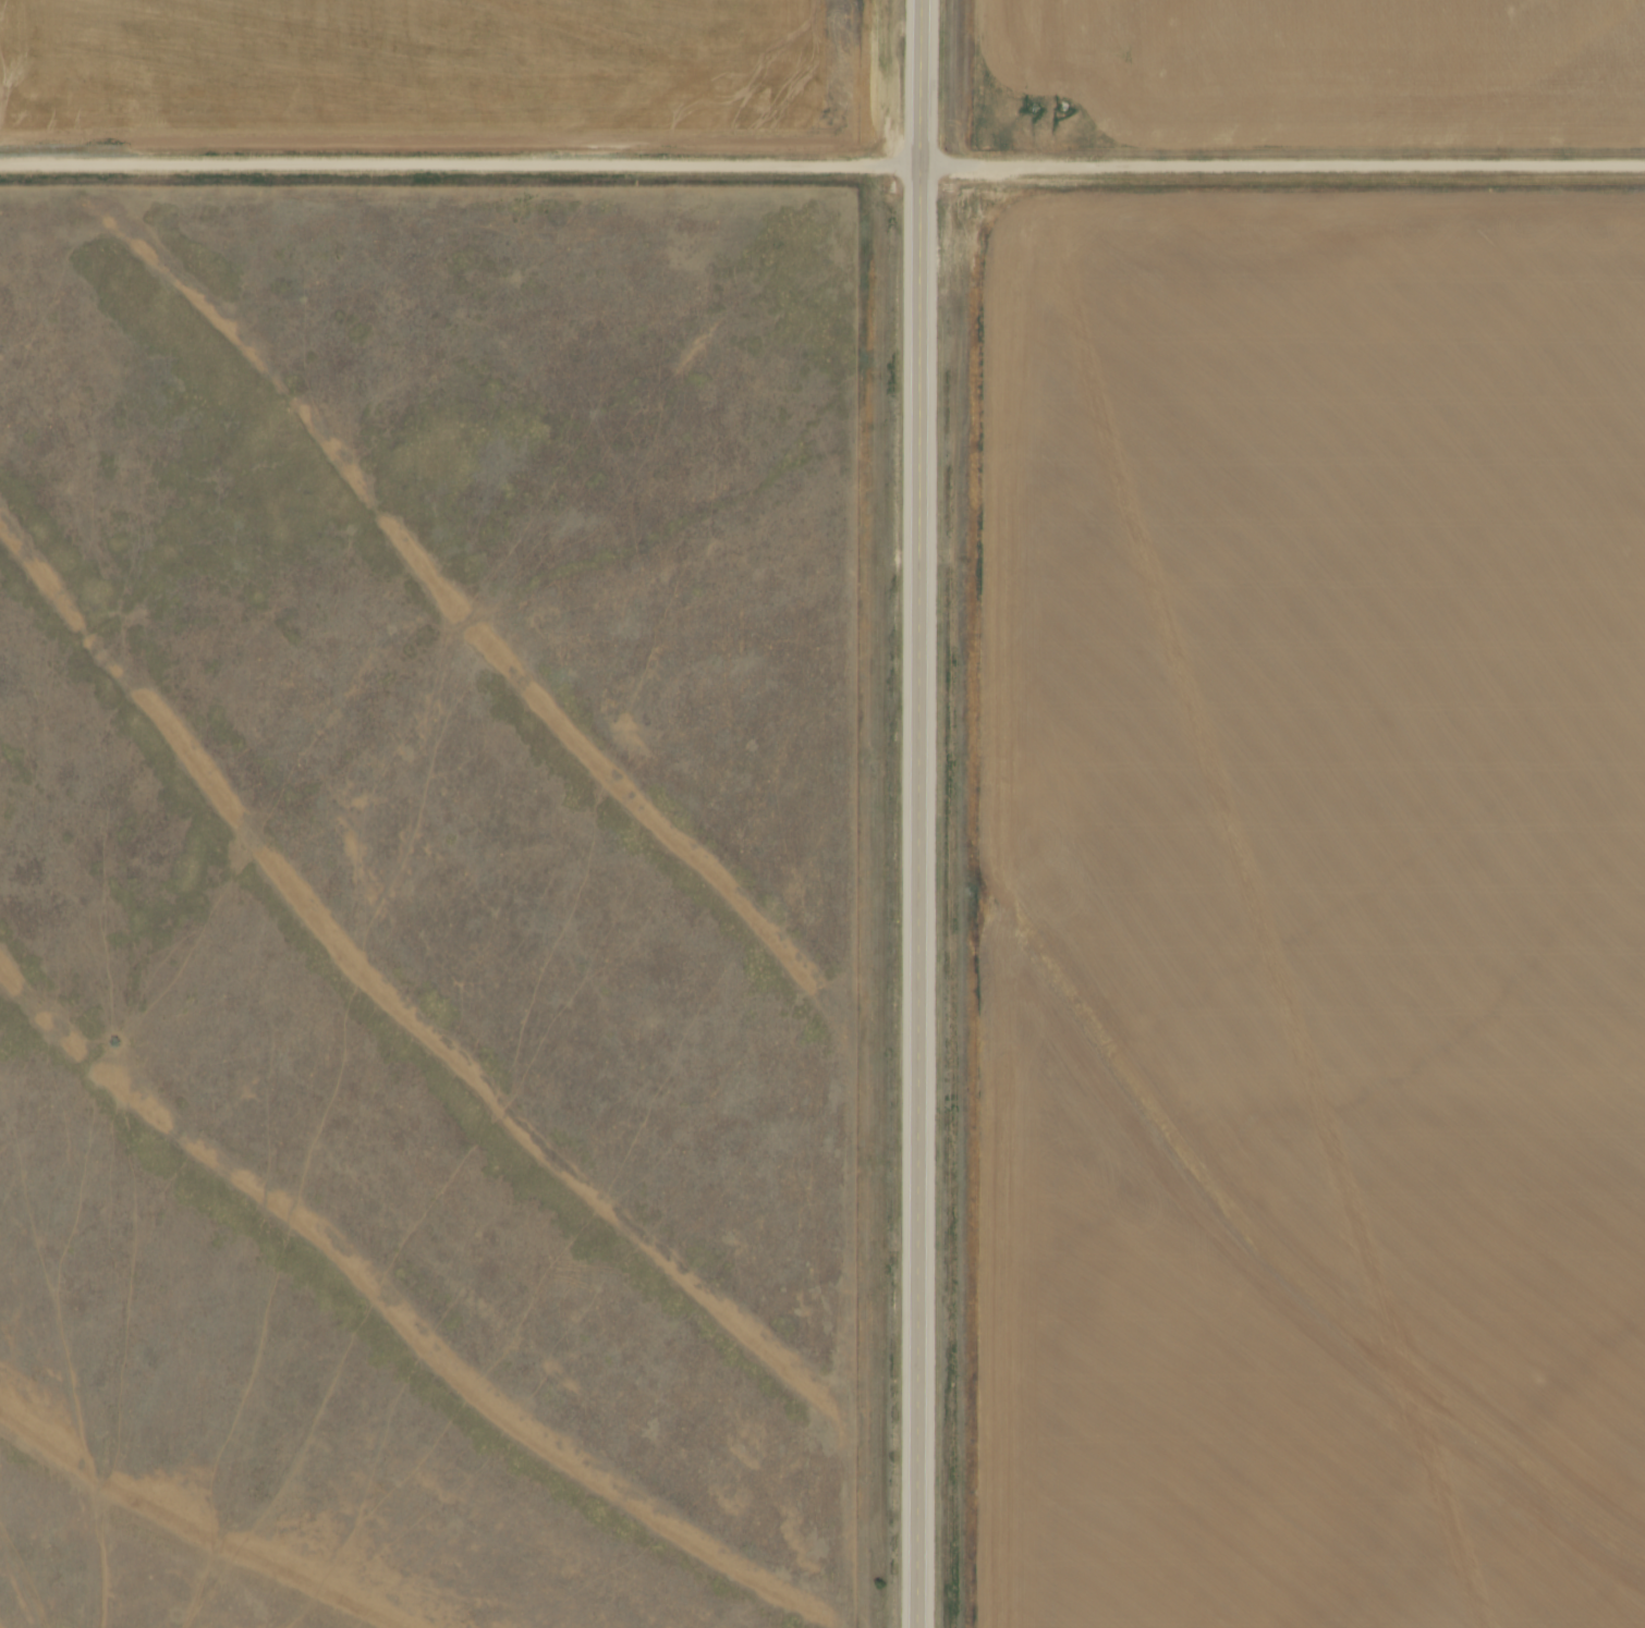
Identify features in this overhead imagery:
road: (822, 163)
road: (913, 813)

